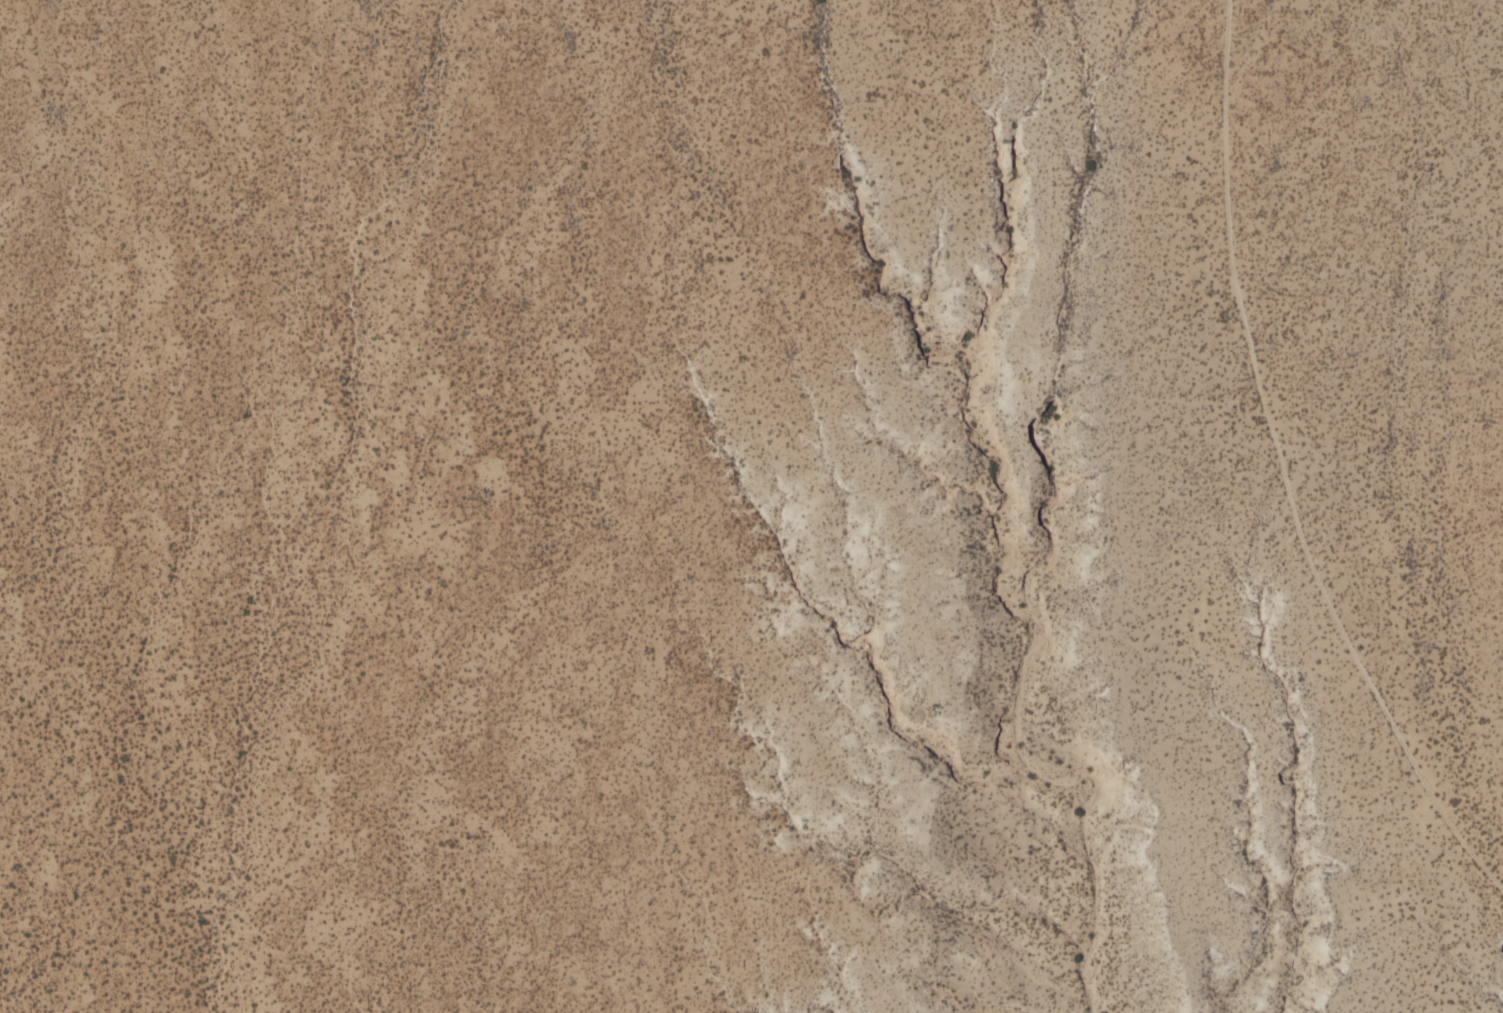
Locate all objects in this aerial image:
road: (1282, 470)

